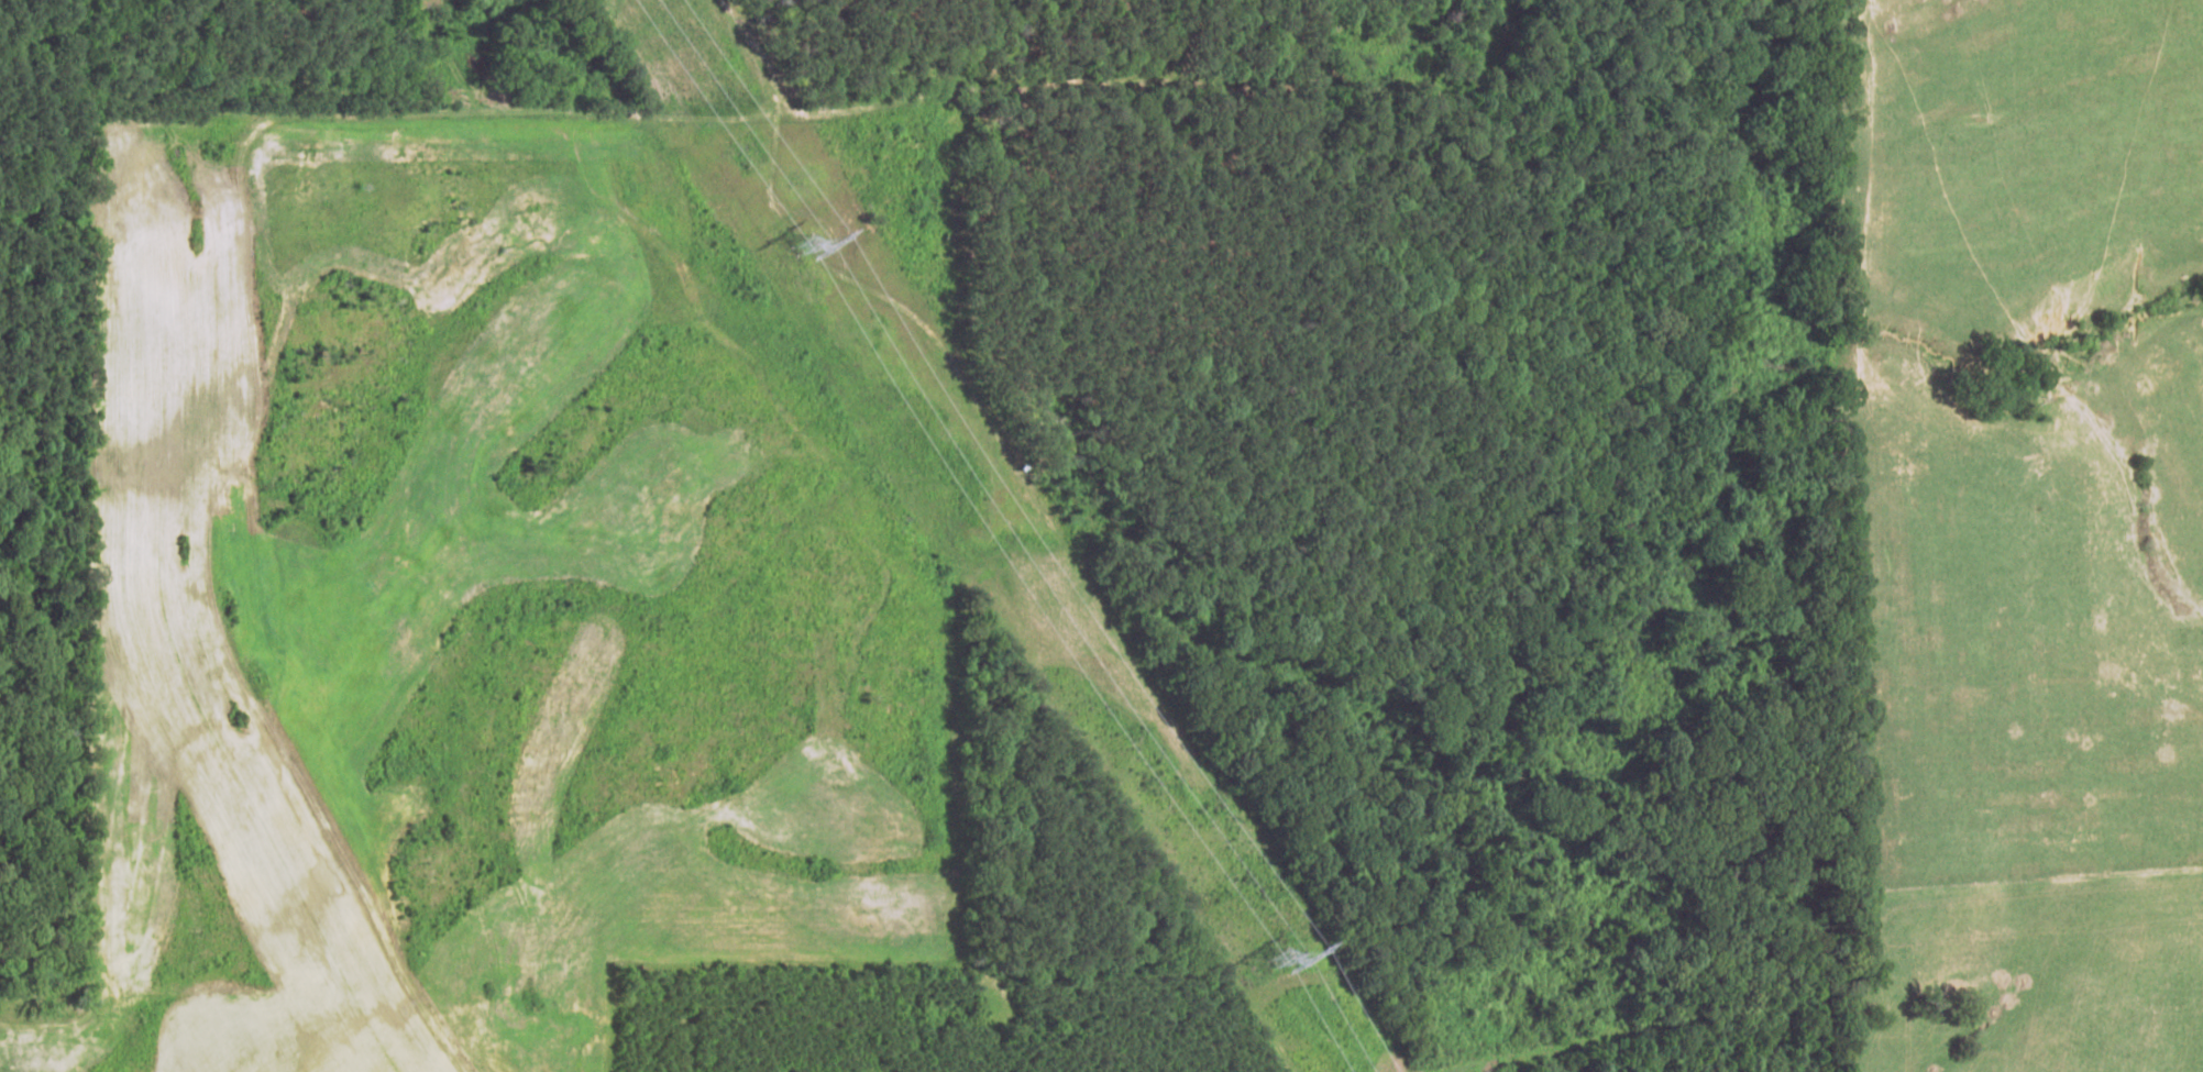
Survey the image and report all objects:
power tower: (808, 242)
power tower: (1285, 960)

